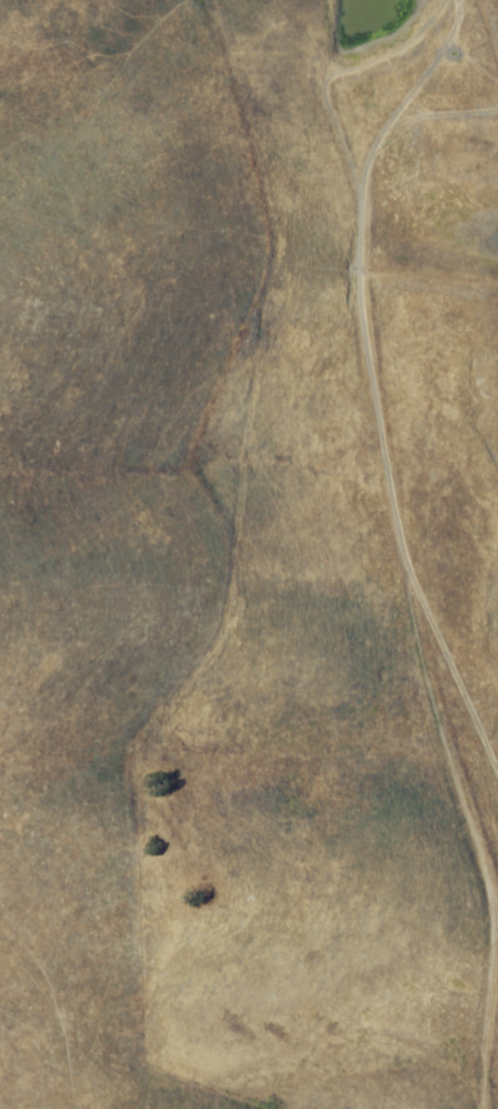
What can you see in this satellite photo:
crop: (248, 554)
road: (434, 708)

